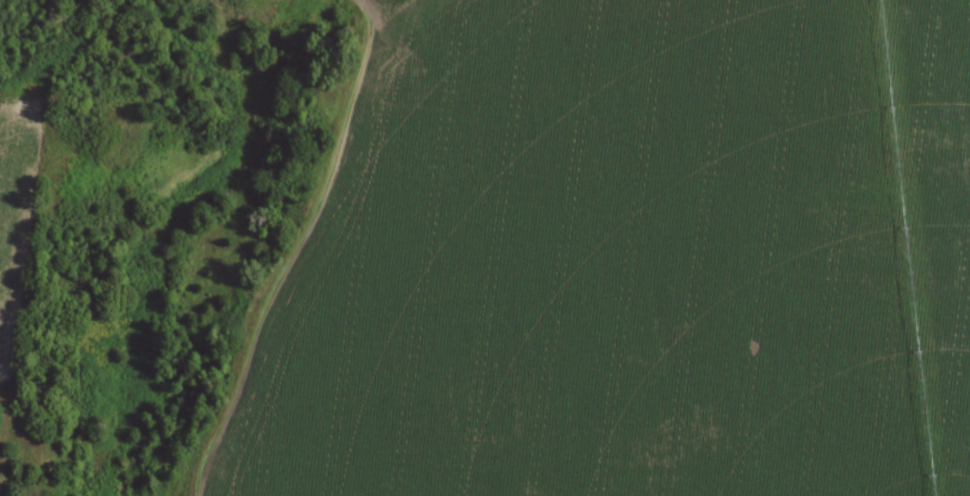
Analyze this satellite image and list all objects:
crop: (628, 259)

